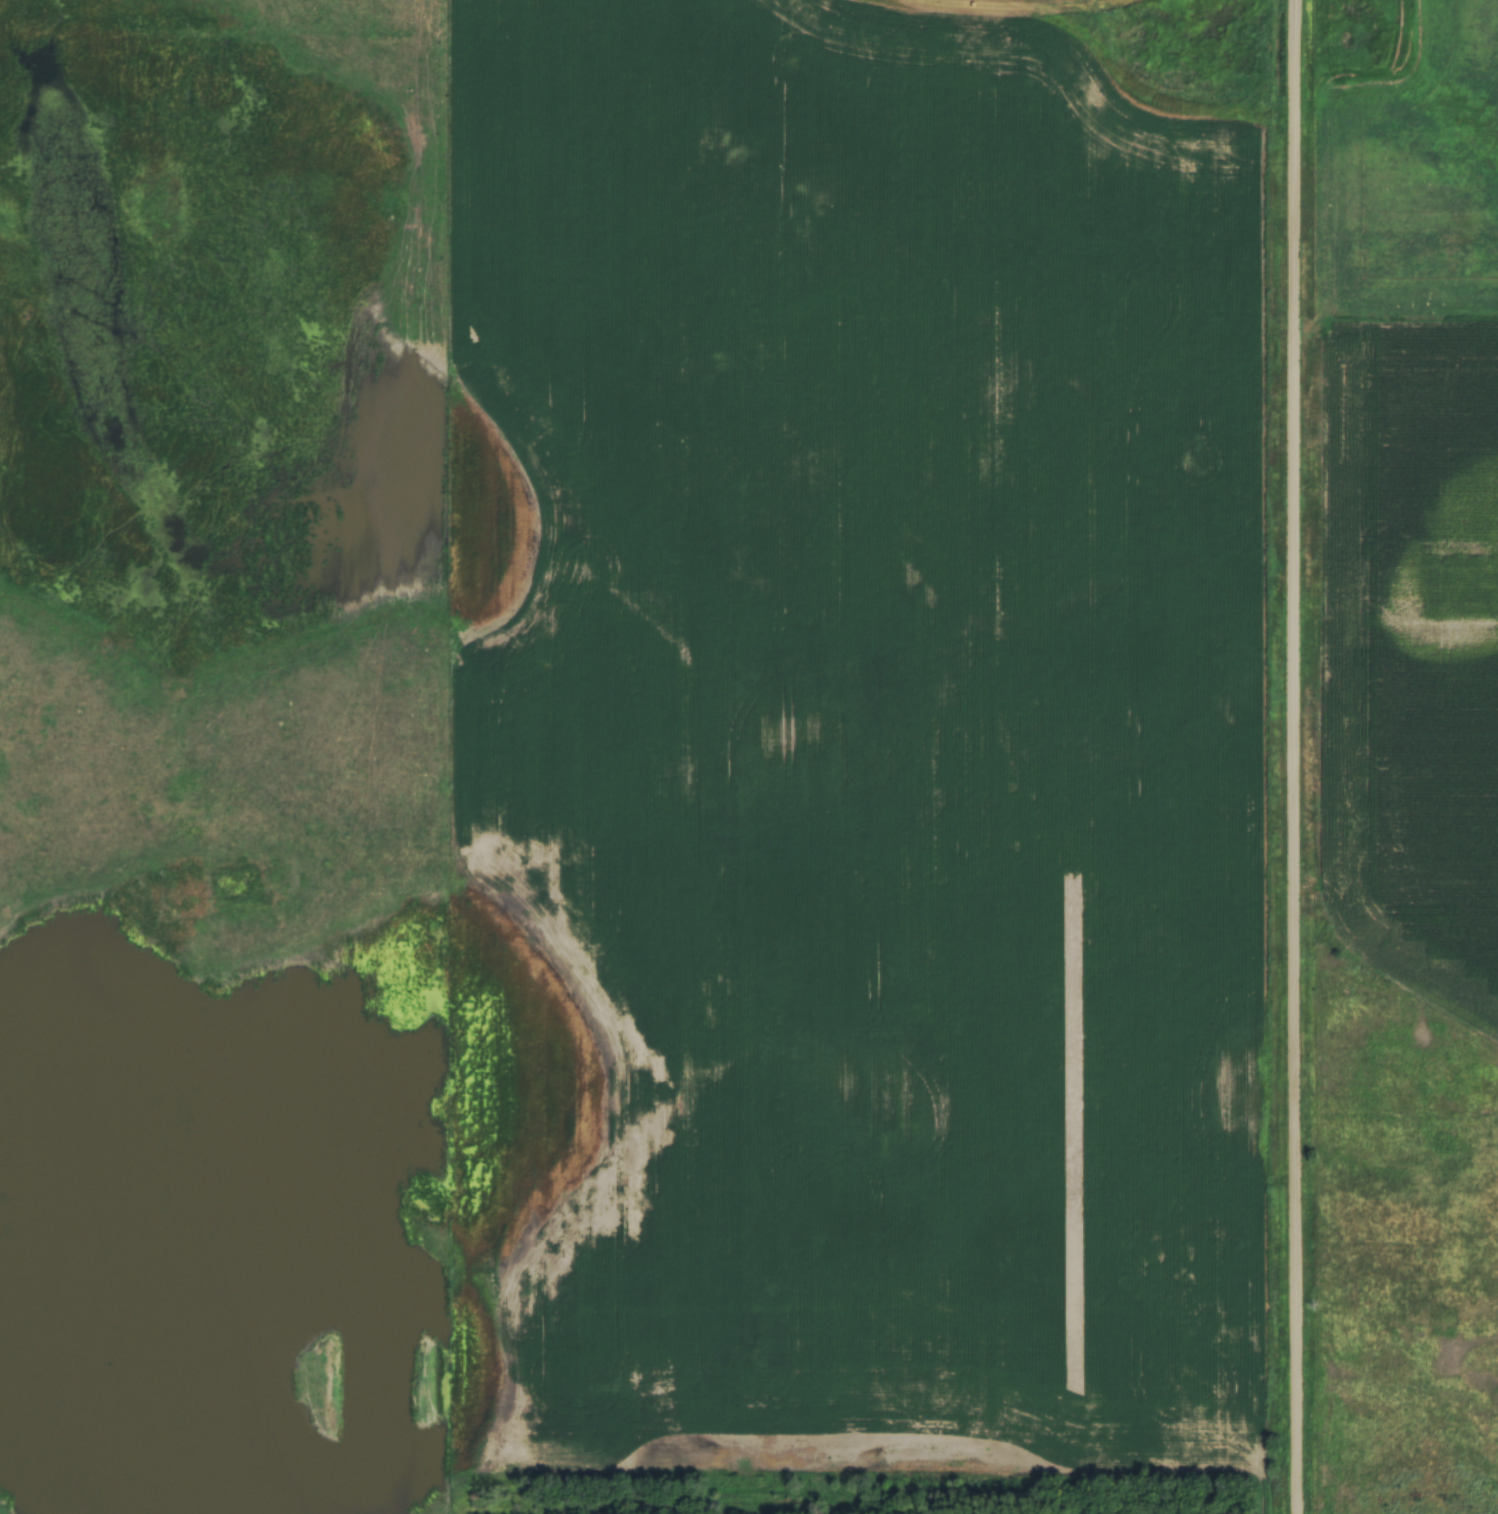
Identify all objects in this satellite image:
road: (1298, 757)

